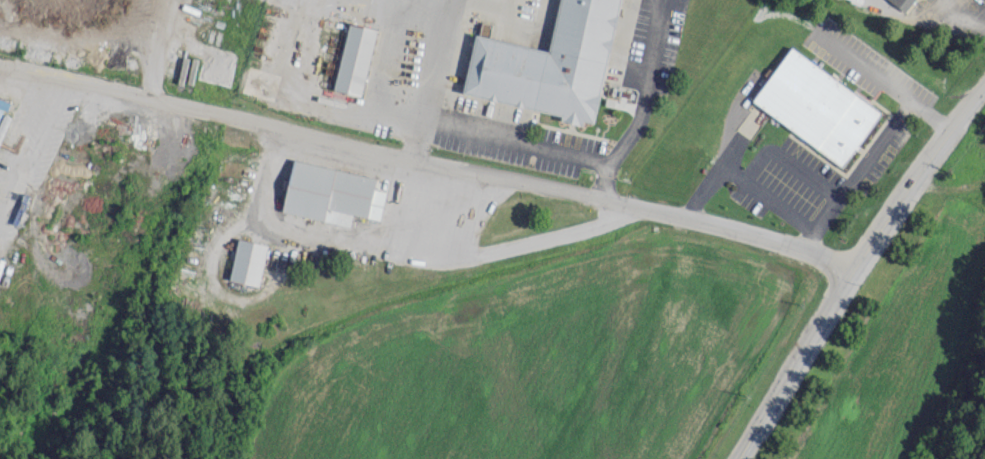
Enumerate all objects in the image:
building: (902, 3)
road: (964, 14)
building: (354, 59)
building: (549, 64)
road: (431, 79)
road: (77, 81)
road: (647, 88)
building: (816, 106)
road: (317, 136)
road: (514, 141)
road: (506, 177)
road: (602, 180)
road: (825, 184)
road: (754, 187)
building: (331, 191)
road: (828, 213)
road: (742, 234)
road: (497, 248)
building: (248, 261)
road: (856, 270)

